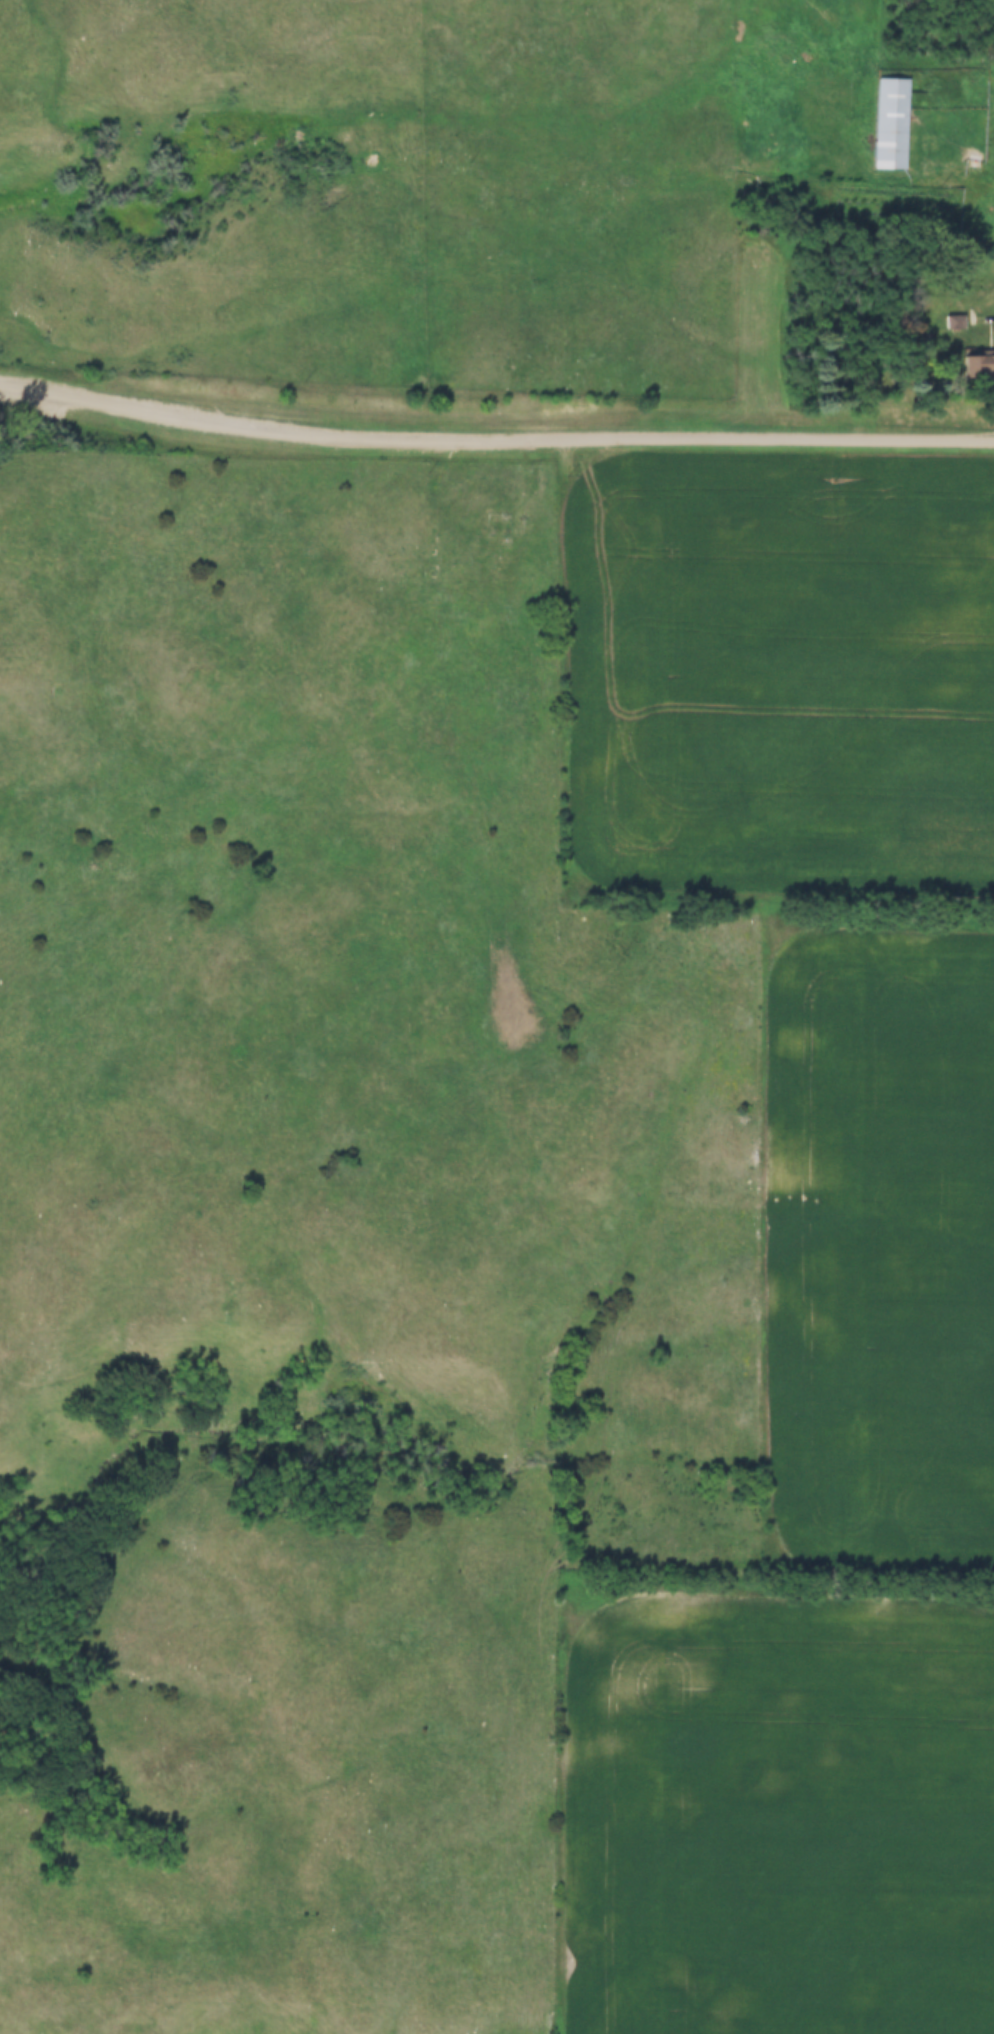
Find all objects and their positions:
building: (889, 124)
building: (954, 322)
building: (978, 365)
road: (495, 447)

